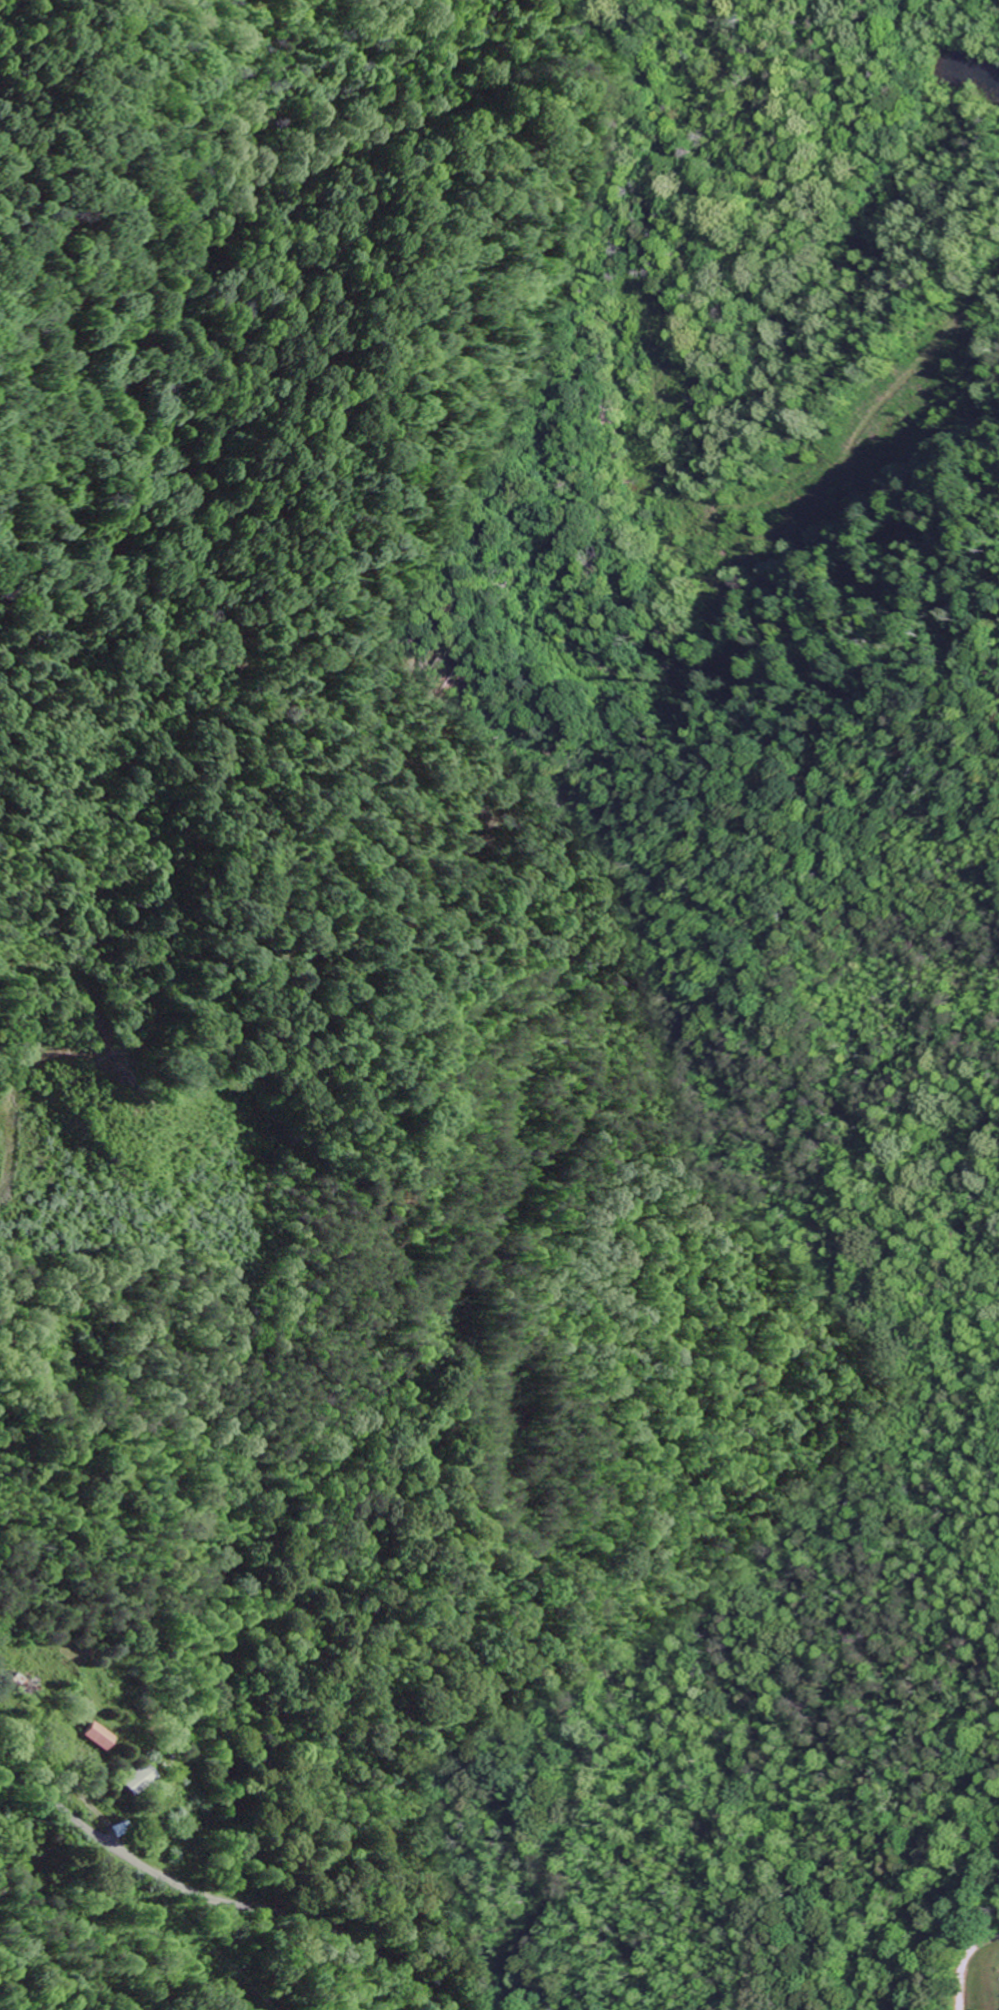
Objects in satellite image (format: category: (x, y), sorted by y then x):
building: (96, 1736)
road: (221, 1903)

